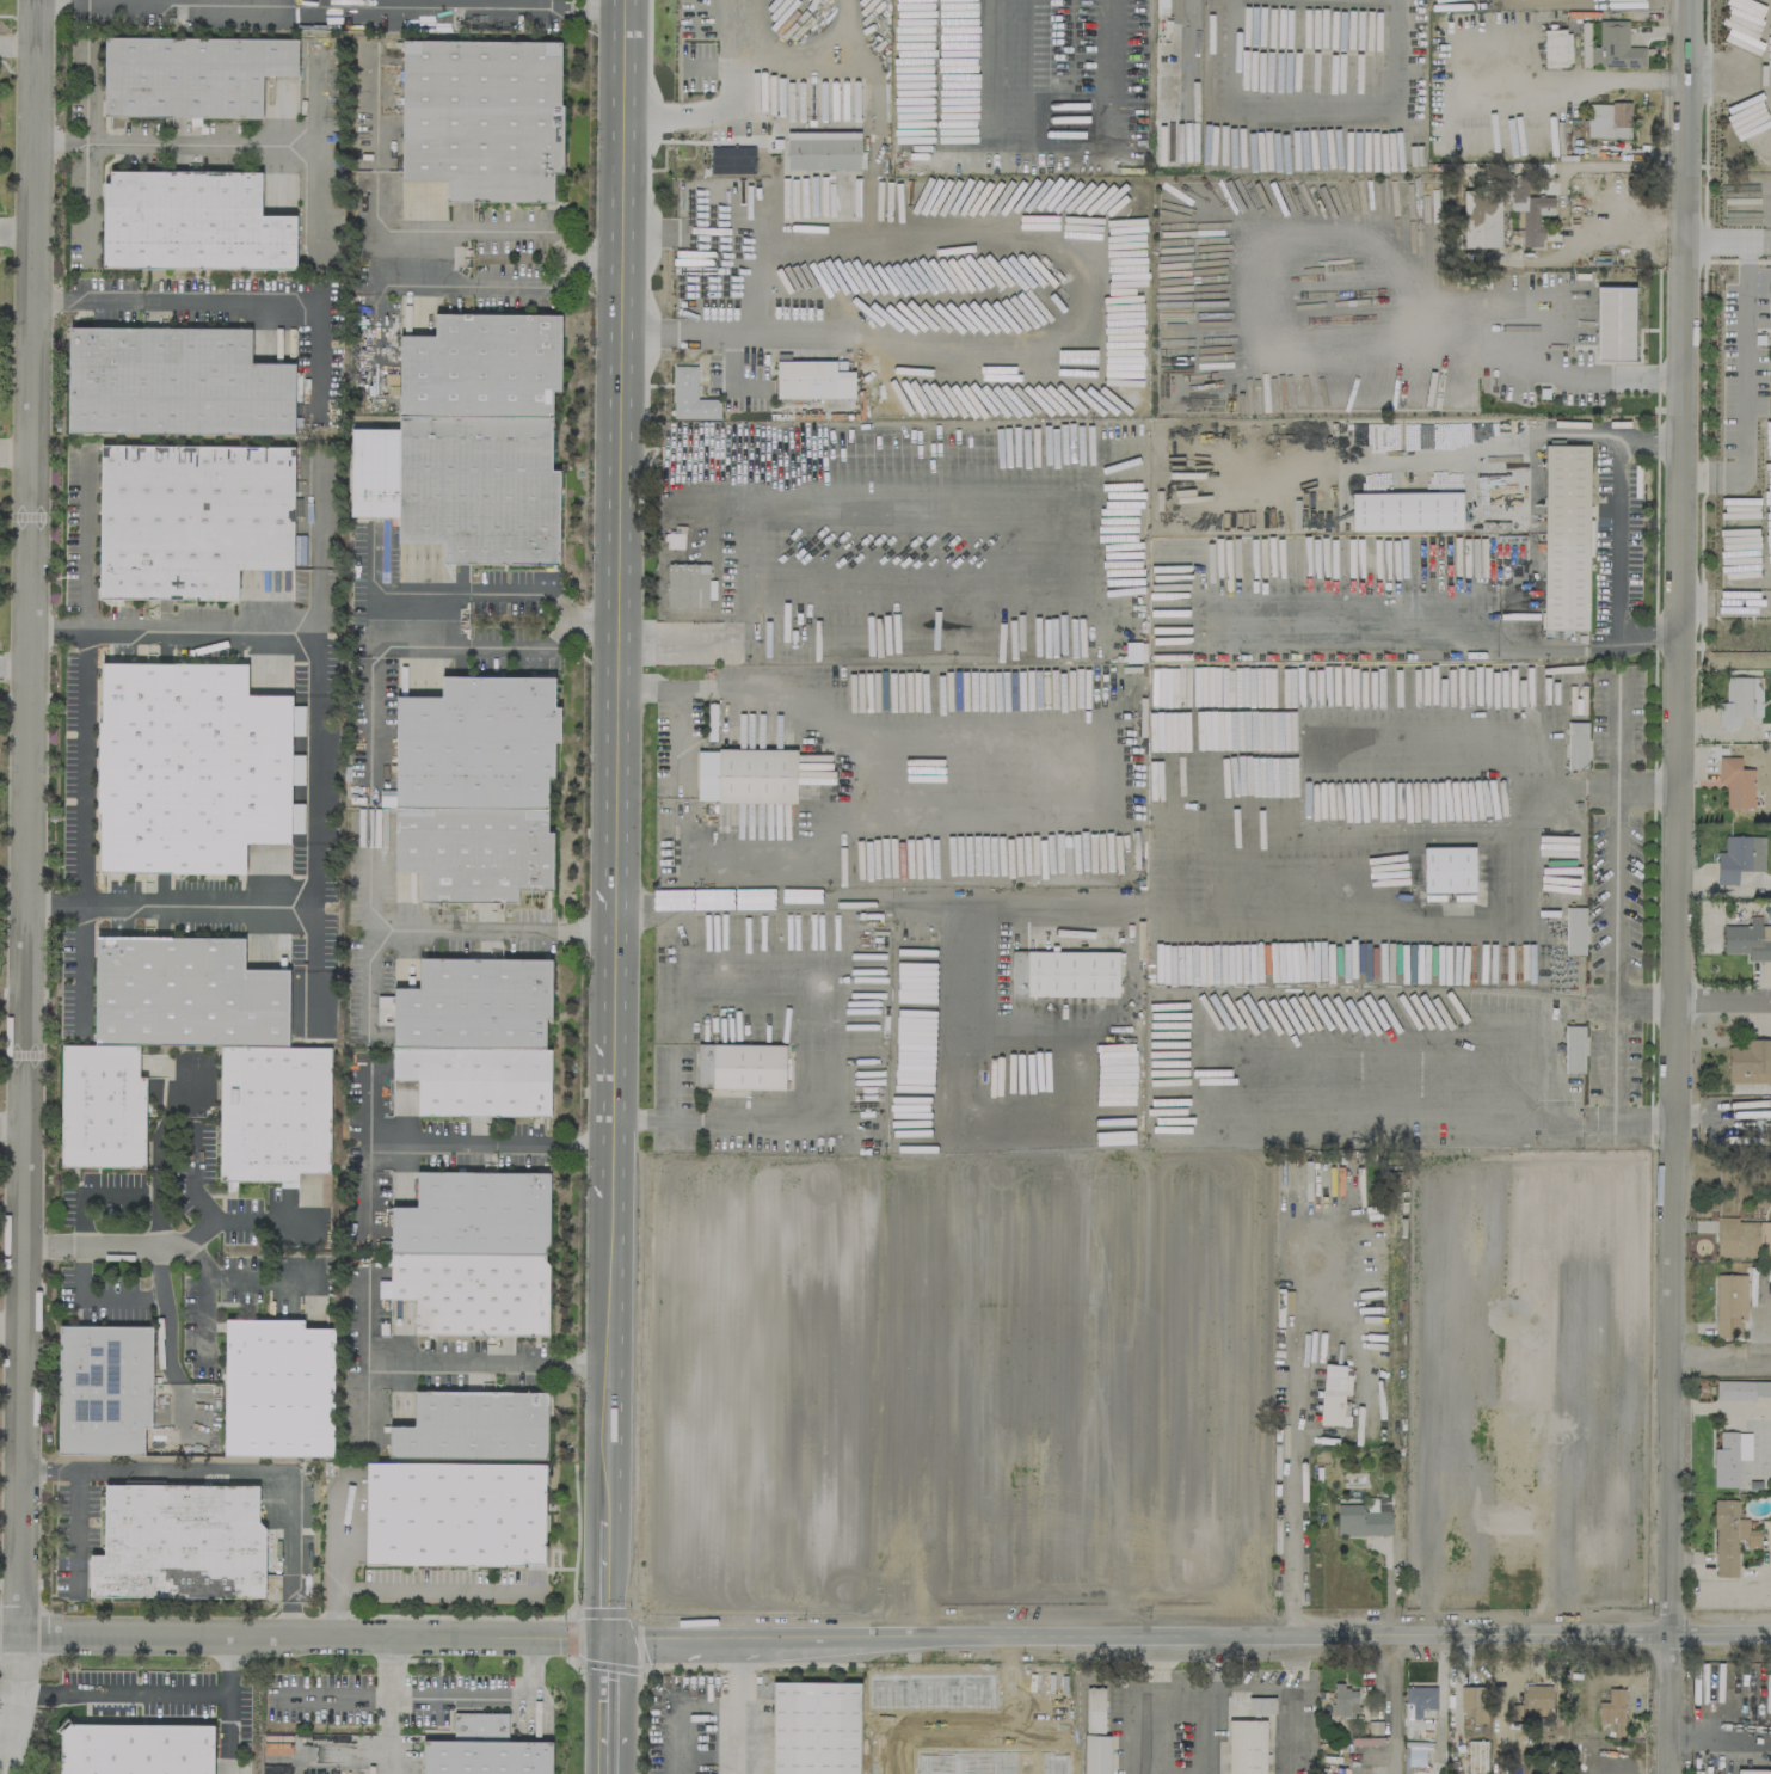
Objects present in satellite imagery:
road: (102, 0)
road: (223, 0)
building: (1161, 2)
road: (417, 6)
road: (530, 8)
road: (576, 8)
road: (733, 27)
road: (18, 44)
building: (1552, 47)
building: (1615, 47)
road: (1514, 48)
building: (1567, 48)
building: (1584, 49)
road: (812, 54)
road: (707, 68)
road: (1764, 69)
road: (1723, 70)
building: (193, 74)
road: (85, 97)
building: (1166, 99)
road: (695, 111)
building: (482, 117)
building: (1607, 119)
road: (1040, 124)
road: (147, 143)
building: (822, 149)
road: (1600, 166)
road: (315, 177)
building: (1527, 210)
building: (190, 221)
road: (419, 231)
road: (652, 232)
road: (17, 234)
road: (1764, 240)
road: (1722, 241)
road: (1742, 250)
road: (383, 259)
road: (487, 289)
road: (223, 302)
building: (1613, 323)
road: (1083, 327)
road: (1591, 375)
road: (730, 379)
building: (812, 379)
road: (1744, 379)
building: (176, 381)
building: (690, 395)
road: (620, 435)
building: (471, 443)
road: (16, 452)
road: (1698, 475)
road: (989, 484)
building: (1404, 510)
building: (192, 515)
road: (1612, 532)
building: (1564, 536)
road: (84, 540)
building: (674, 540)
road: (316, 558)
building: (688, 585)
road: (413, 595)
road: (1697, 602)
road: (1741, 602)
road: (197, 628)
road: (14, 667)
building: (1739, 700)
road: (368, 701)
road: (1617, 733)
road: (79, 735)
road: (836, 736)
building: (1576, 744)
building: (189, 765)
road: (313, 768)
building: (745, 775)
building: (1735, 782)
building: (474, 790)
road: (1648, 791)
building: (386, 797)
road: (27, 816)
building: (1739, 857)
building: (1447, 868)
road: (1678, 886)
road: (1238, 894)
road: (167, 900)
road: (728, 901)
road: (1613, 927)
road: (379, 928)
building: (1574, 929)
road: (559, 931)
building: (1747, 939)
road: (78, 958)
building: (1063, 972)
road: (367, 983)
road: (1723, 1000)
building: (383, 1009)
road: (615, 1030)
building: (475, 1037)
building: (1573, 1048)
building: (1748, 1061)
building: (272, 1062)
road: (1612, 1063)
building: (739, 1066)
road: (1544, 1073)
building: (362, 1084)
road: (12, 1125)
road: (1644, 1127)
road: (475, 1135)
road: (202, 1168)
road: (959, 1192)
road: (373, 1198)
road: (173, 1234)
building: (1741, 1238)
building: (474, 1254)
road: (269, 1267)
building: (382, 1288)
road: (211, 1289)
road: (121, 1299)
building: (1728, 1305)
road: (11, 1326)
road: (613, 1355)
road: (167, 1356)
road: (1723, 1358)
road: (444, 1368)
building: (277, 1388)
building: (103, 1389)
building: (1741, 1389)
building: (1333, 1394)
road: (365, 1400)
building: (473, 1425)
building: (1483, 1431)
building: (1021, 1447)
building: (1728, 1455)
road: (239, 1469)
building: (1515, 1477)
road: (1289, 1478)
building: (454, 1512)
building: (1360, 1514)
building: (1145, 1516)
road: (336, 1518)
road: (78, 1527)
building: (1727, 1533)
building: (178, 1543)
building: (1453, 1554)
building: (1513, 1554)
building: (1253, 1559)
road: (333, 1574)
road: (610, 1580)
road: (404, 1588)
road: (885, 1639)
road: (16, 1663)
road: (1226, 1687)
road: (1185, 1688)
road: (6, 1690)
road: (144, 1692)
road: (609, 1692)
road: (328, 1696)
road: (460, 1698)
building: (1341, 1699)
building: (1536, 1699)
building: (1418, 1700)
building: (1472, 1701)
building: (1260, 1705)
road: (1289, 1705)
road: (1389, 1705)
road: (1156, 1706)
road: (734, 1707)
road: (880, 1707)
building: (1611, 1708)
building: (891, 1709)
building: (1094, 1709)
building: (813, 1726)
road: (8, 1732)
road: (225, 1732)
road: (1735, 1732)
road: (385, 1735)
building: (486, 1745)
building: (1246, 1747)
building: (134, 1748)
building: (1095, 1754)
building: (1476, 1756)
road: (608, 1757)
building: (986, 1758)

